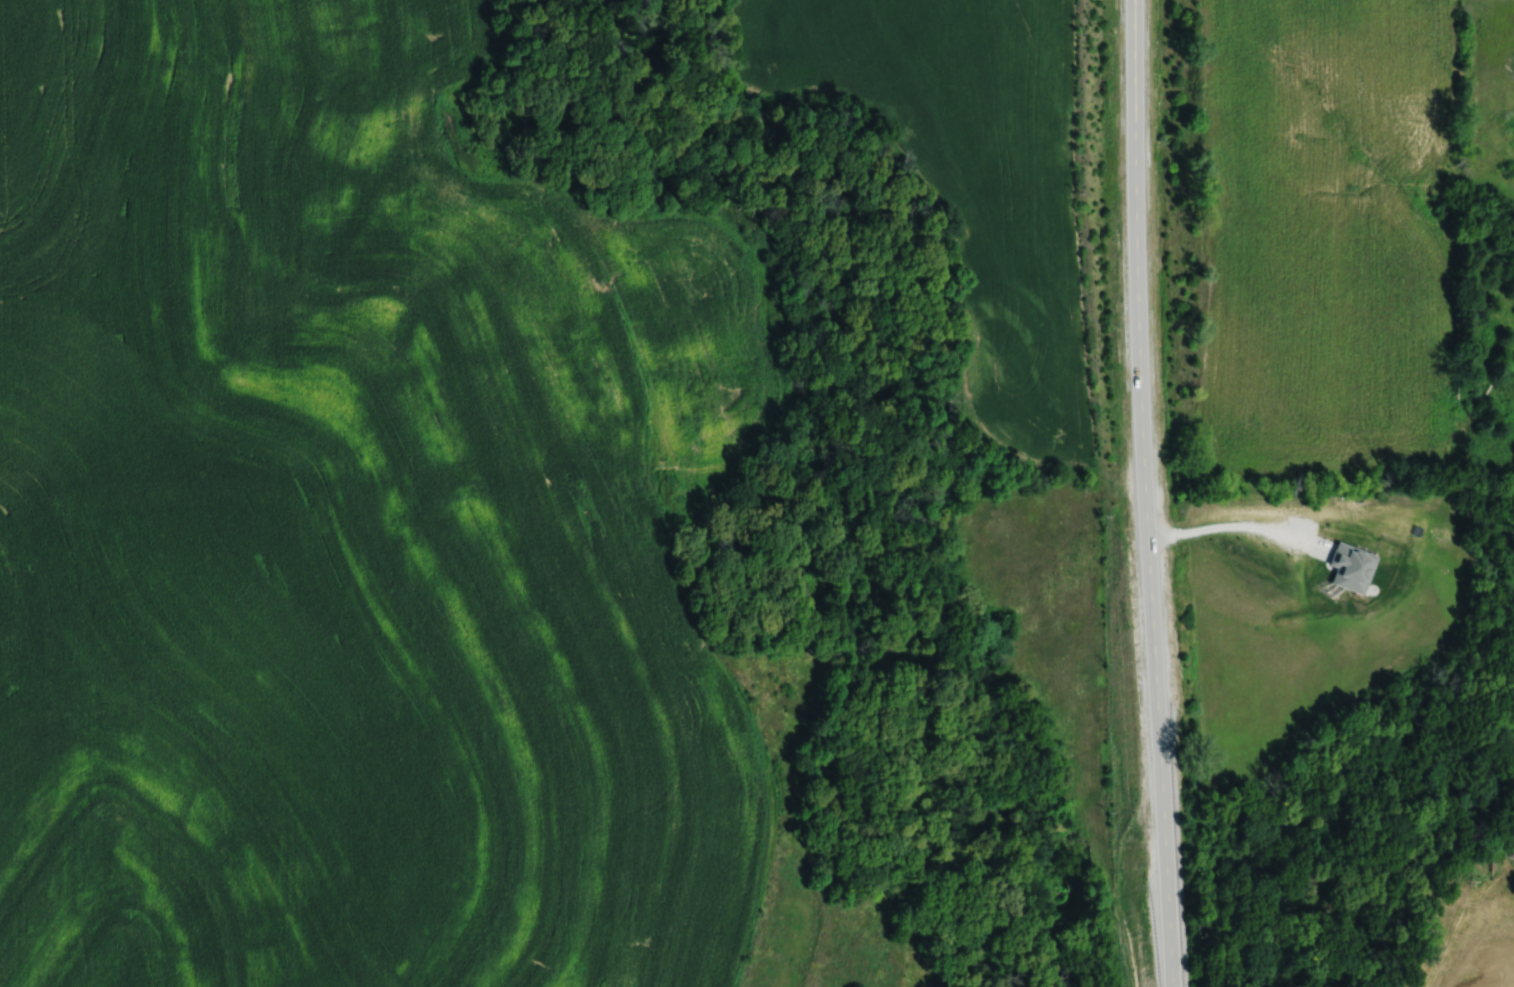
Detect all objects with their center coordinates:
road: (1147, 493)
road: (1225, 527)

